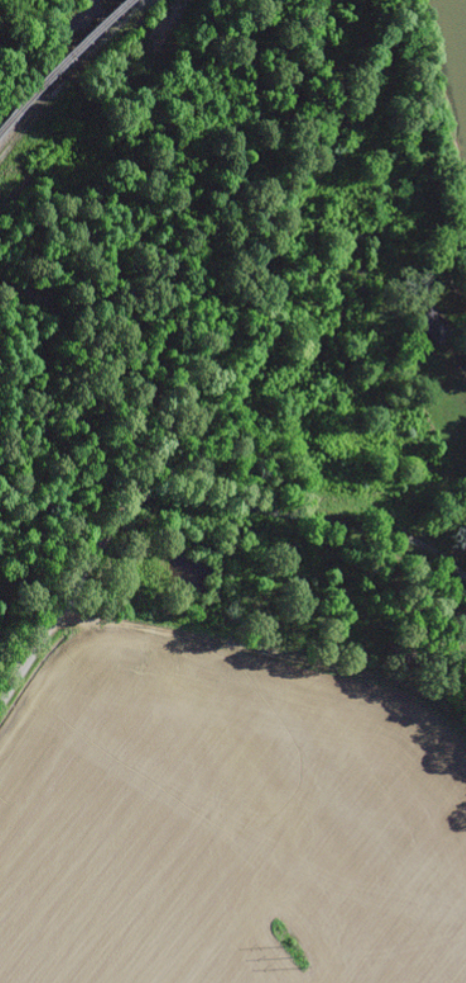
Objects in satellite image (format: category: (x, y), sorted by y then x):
railway: (59, 60)
road: (187, 495)

